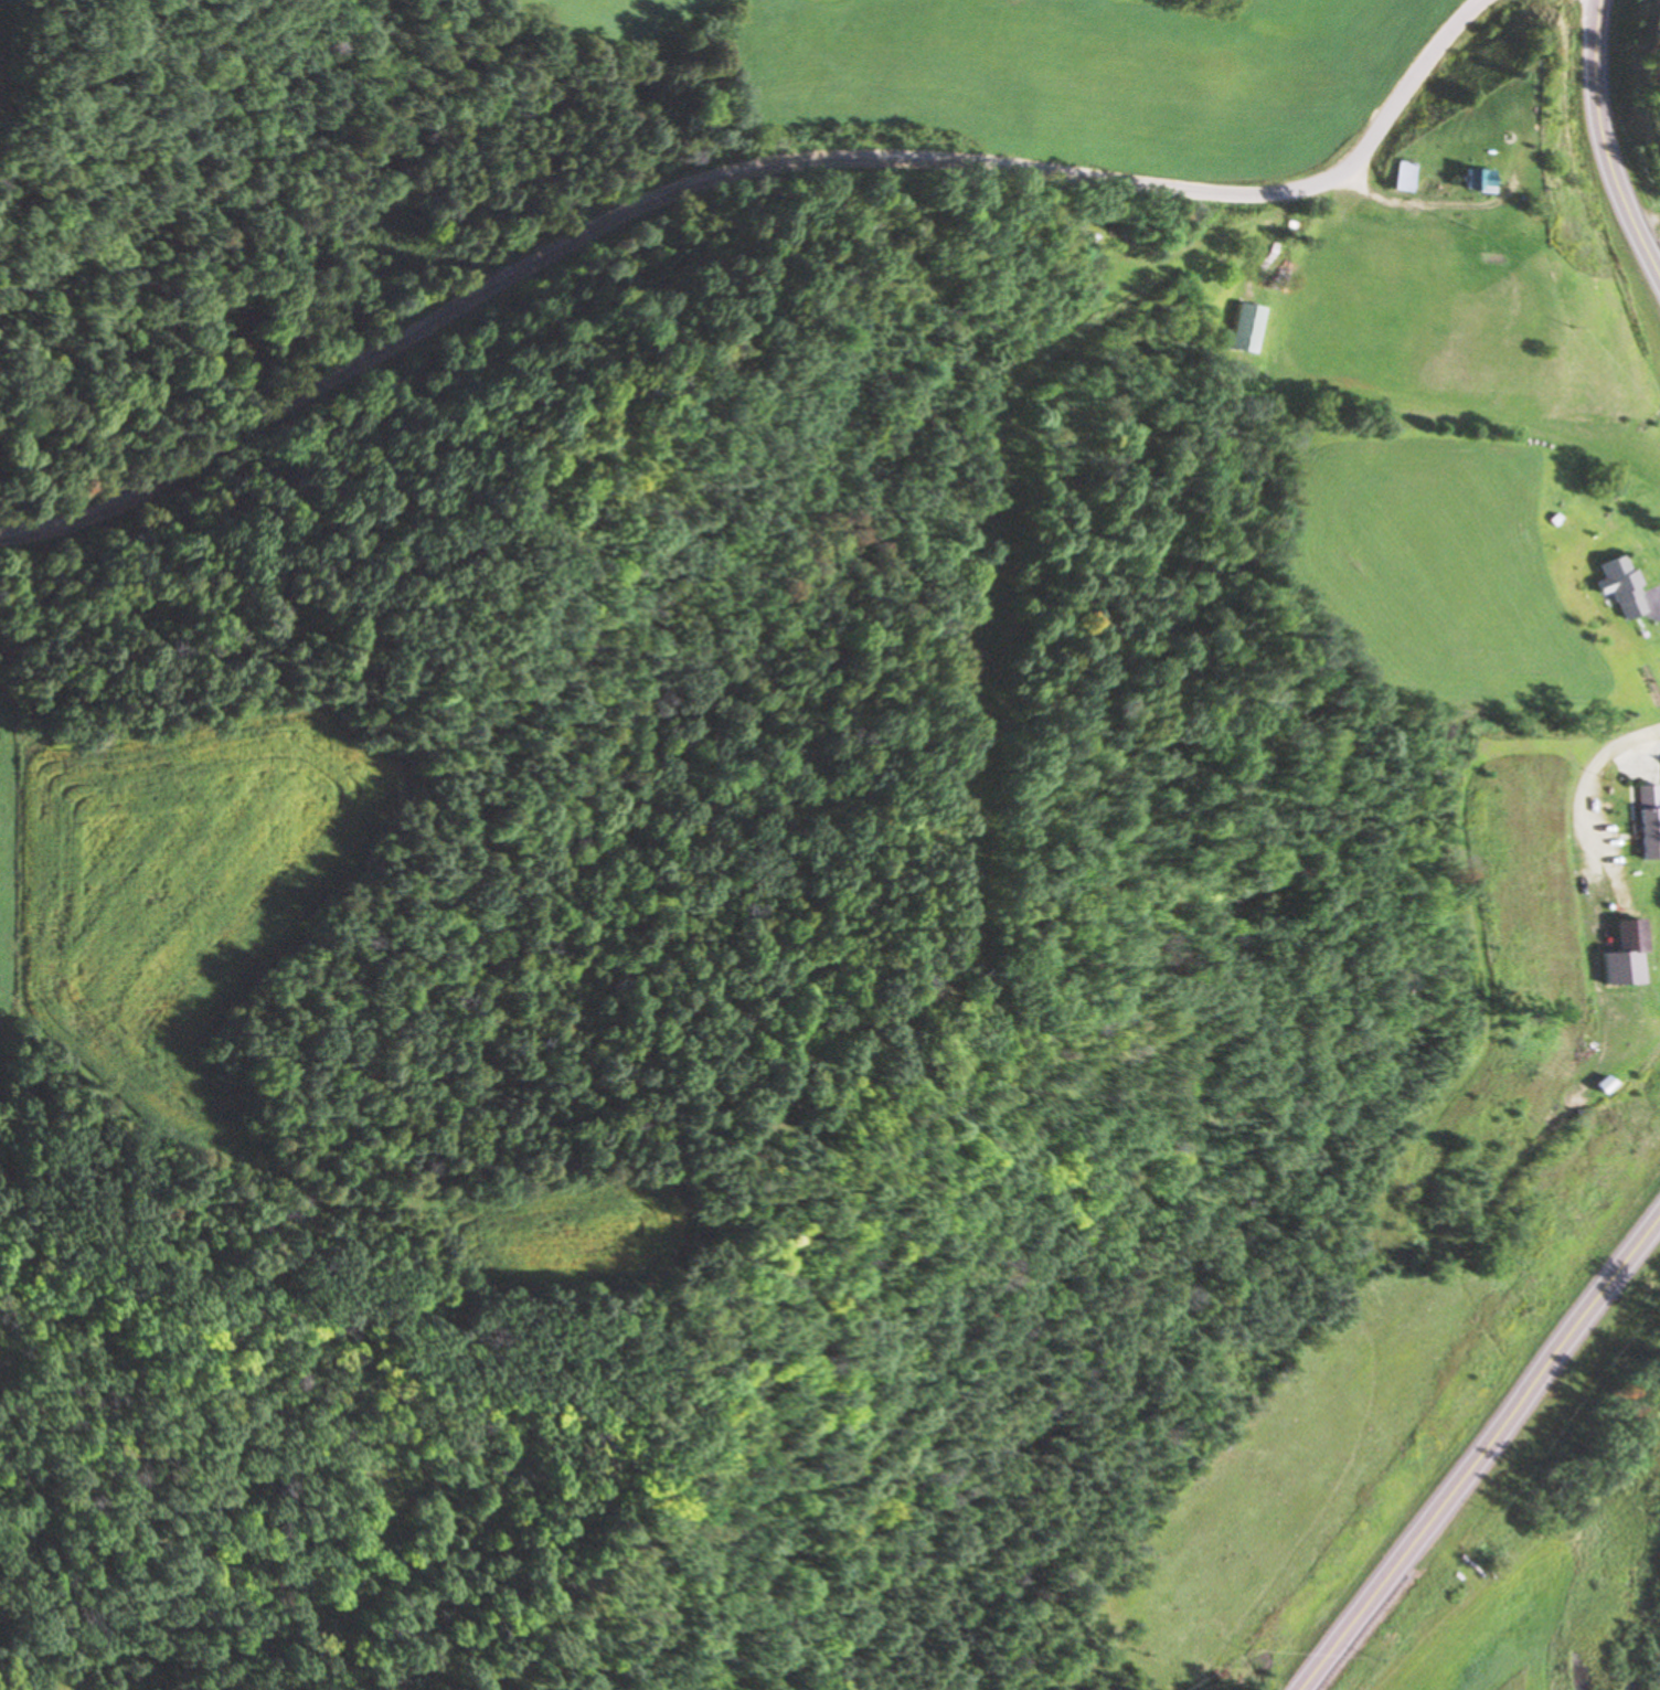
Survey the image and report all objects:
road: (1619, 139)
road: (739, 174)
building: (1403, 178)
building: (1475, 182)
building: (1244, 328)
building: (1620, 588)
road: (1599, 770)
building: (1648, 822)
building: (1628, 936)
road: (1481, 1454)

